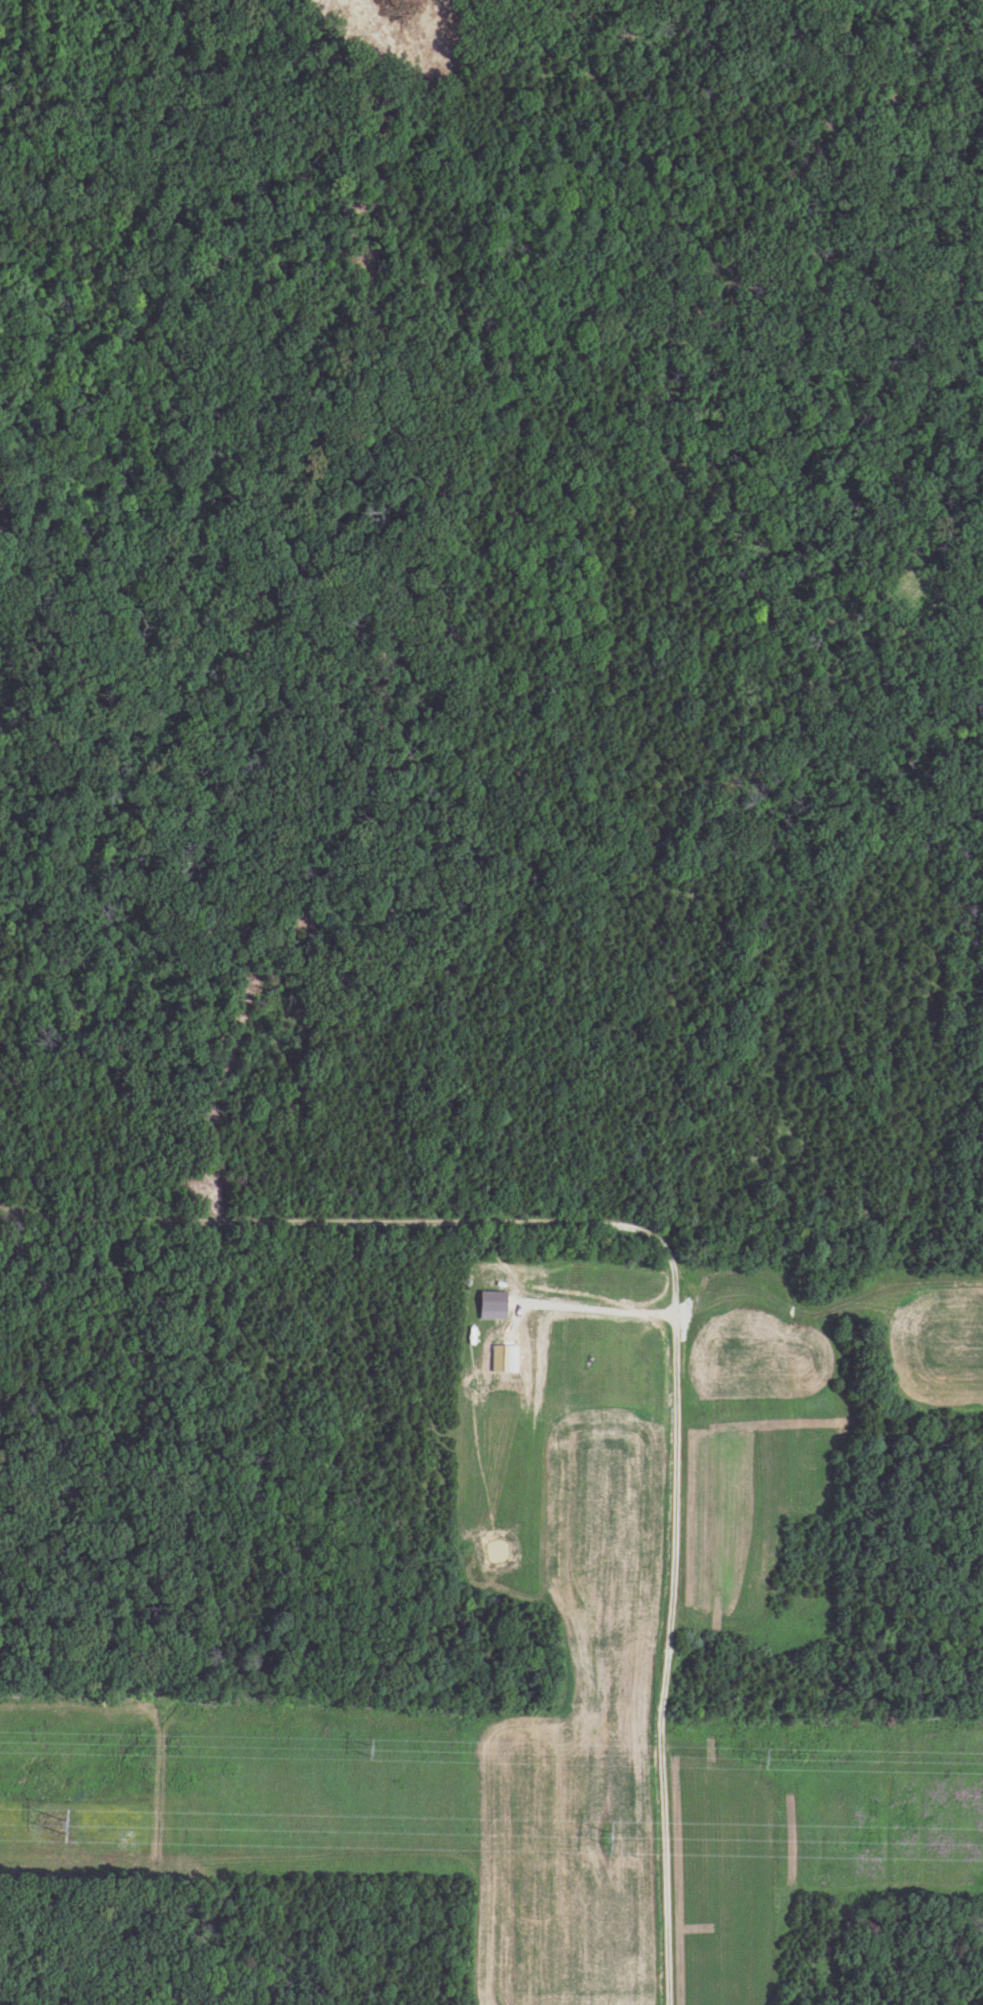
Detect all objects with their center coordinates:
power tower: (347, 1754)
power tower: (760, 1758)
power tower: (67, 1826)
power tower: (602, 1837)

